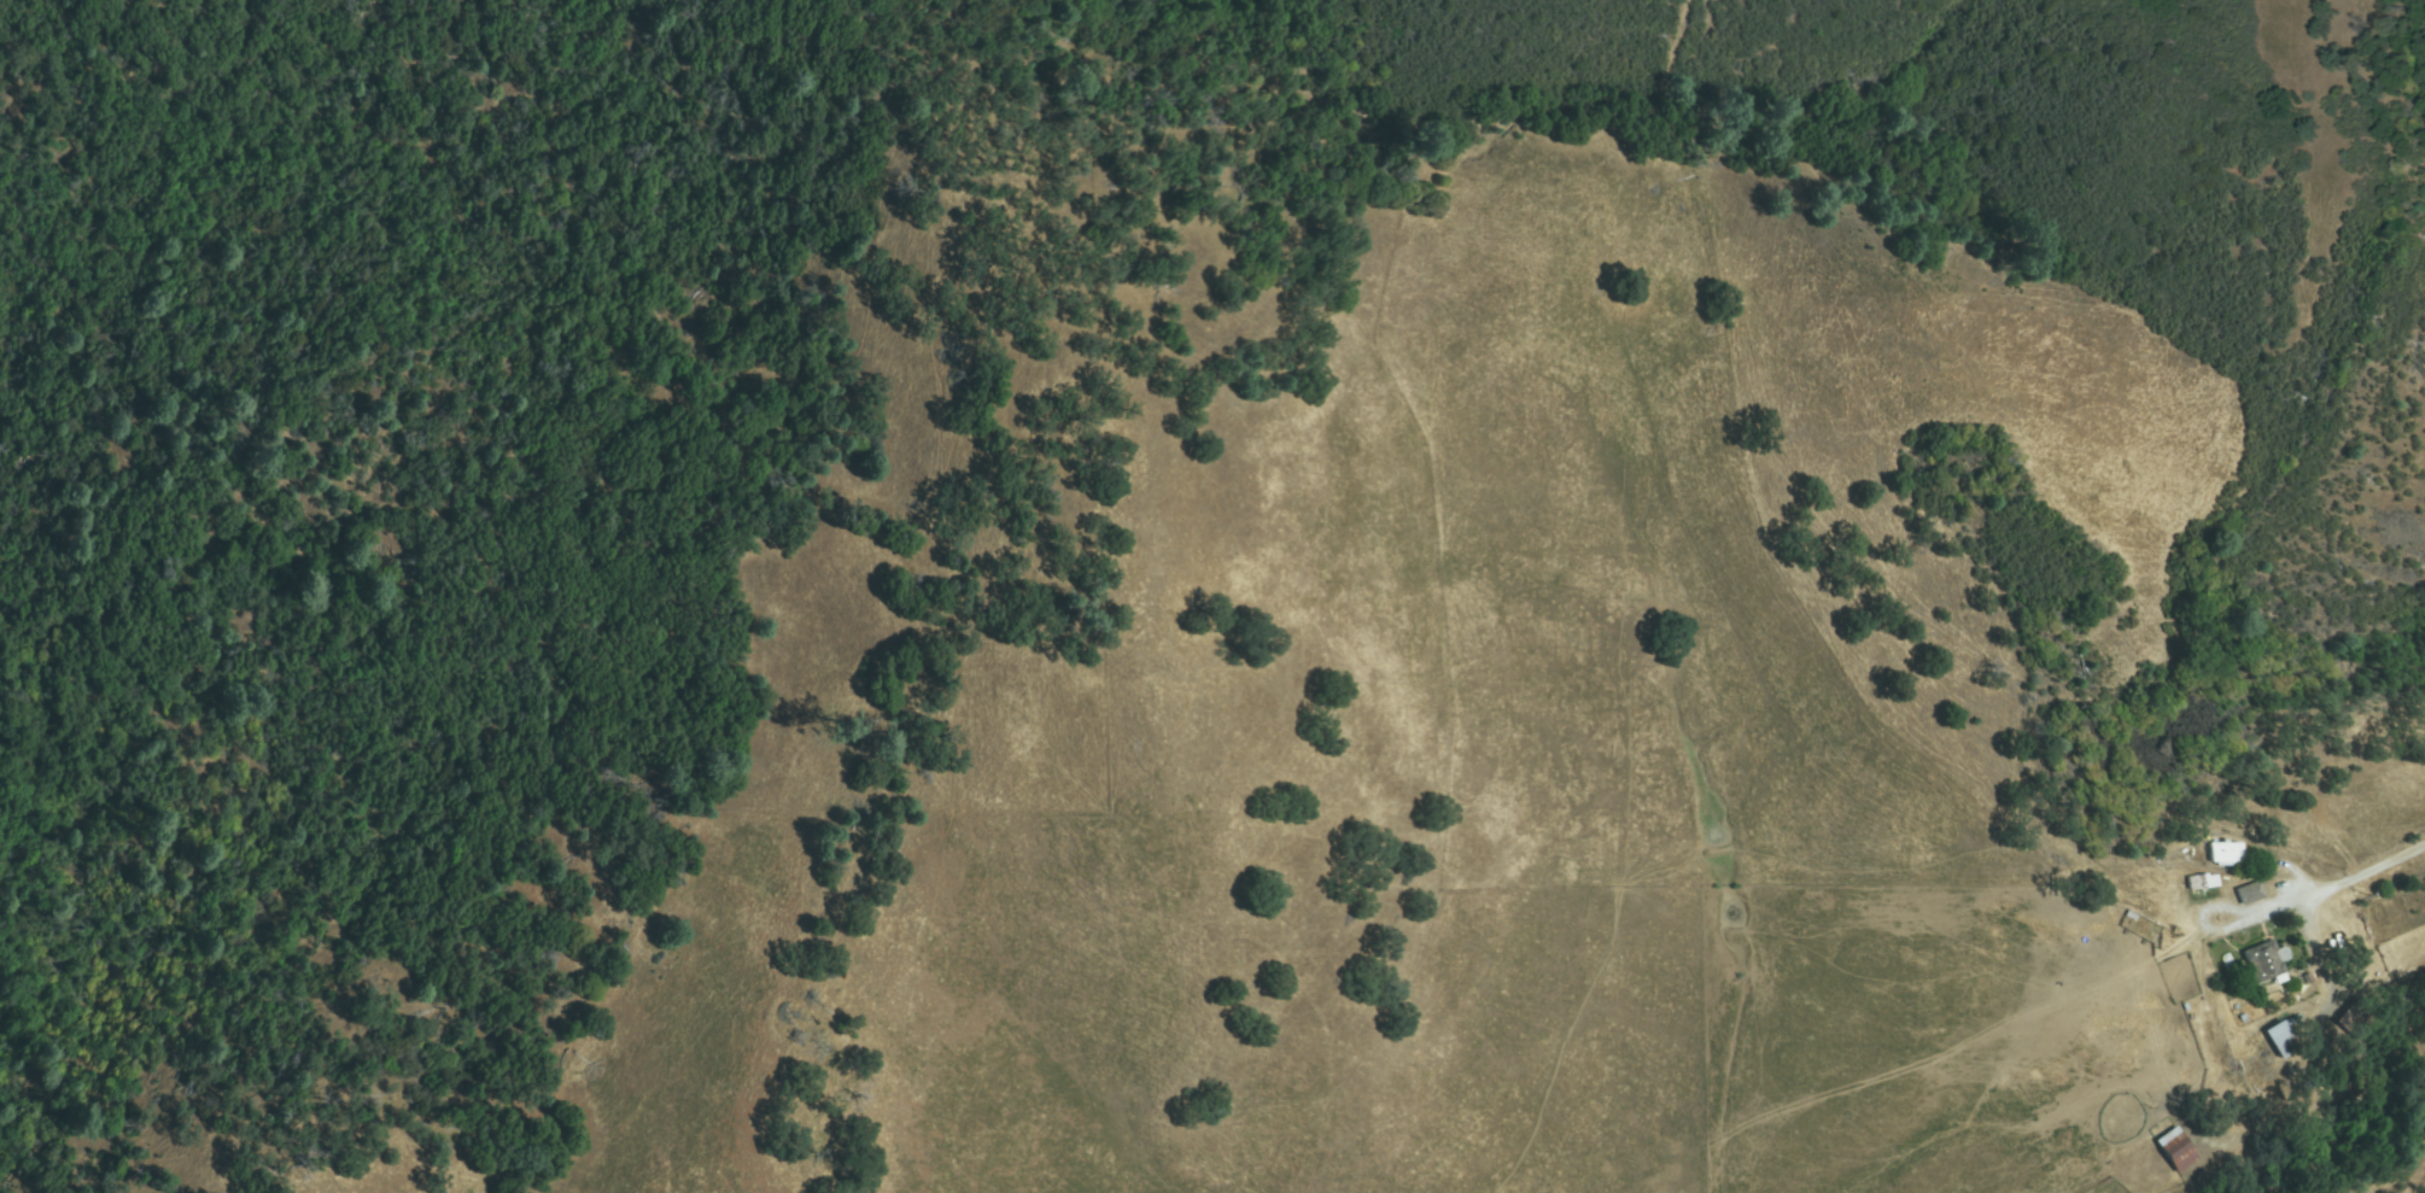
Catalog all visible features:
building: (2226, 854)
building: (2202, 882)
road: (2316, 891)
building: (2250, 893)
building: (2263, 963)
building: (2354, 1016)
building: (2281, 1040)
building: (2355, 1086)
building: (2174, 1151)

